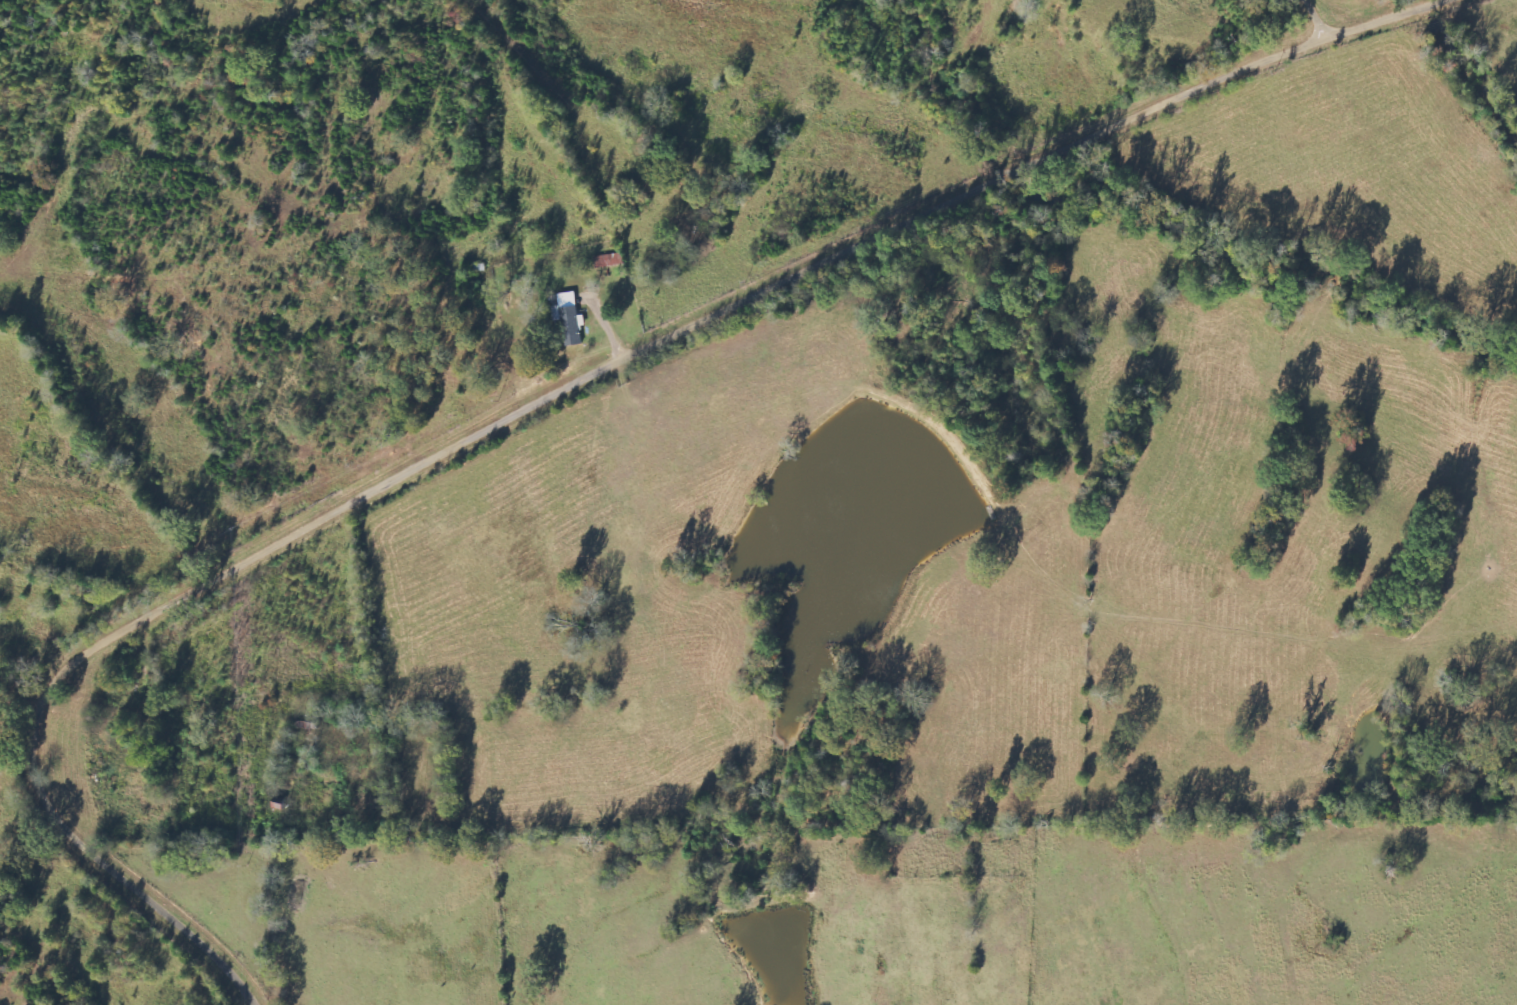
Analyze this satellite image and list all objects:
road: (1325, 18)
park: (888, 294)
building: (570, 319)
road: (548, 398)

